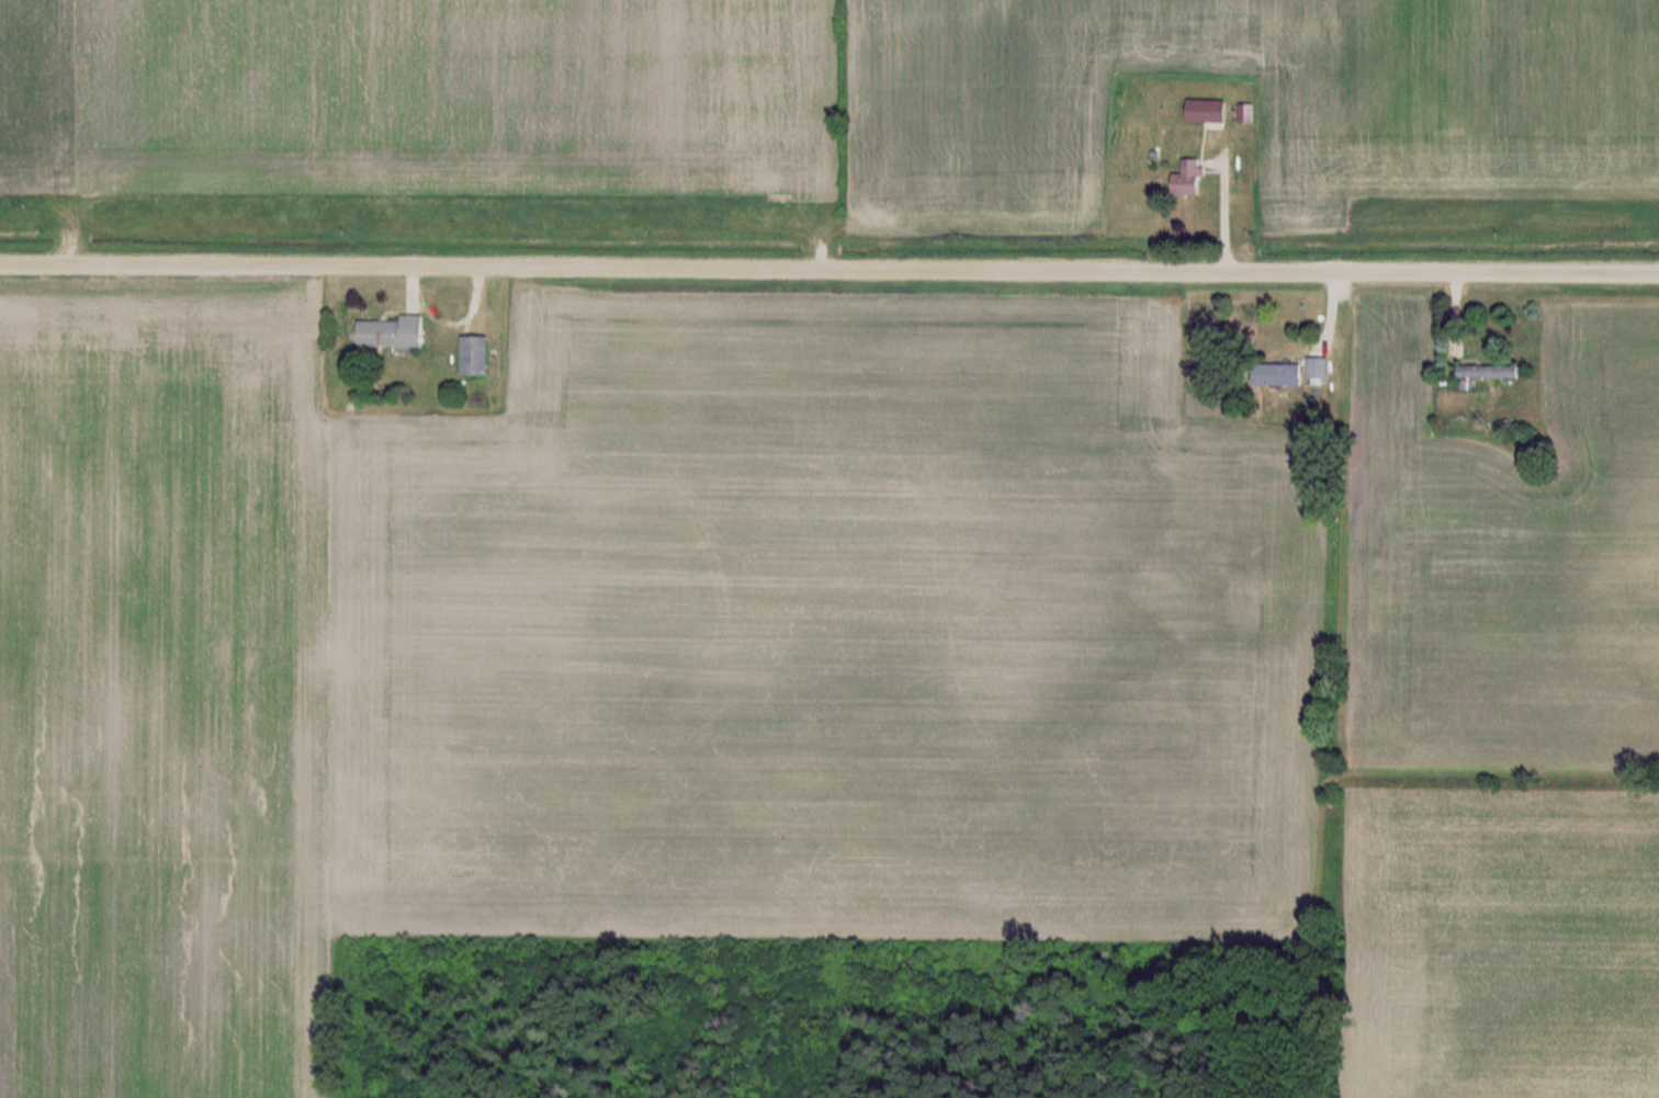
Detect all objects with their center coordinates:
building: (1217, 112)
building: (1188, 184)
road: (828, 272)
building: (393, 333)
building: (476, 356)
building: (1319, 367)
building: (1489, 372)
building: (1288, 374)

